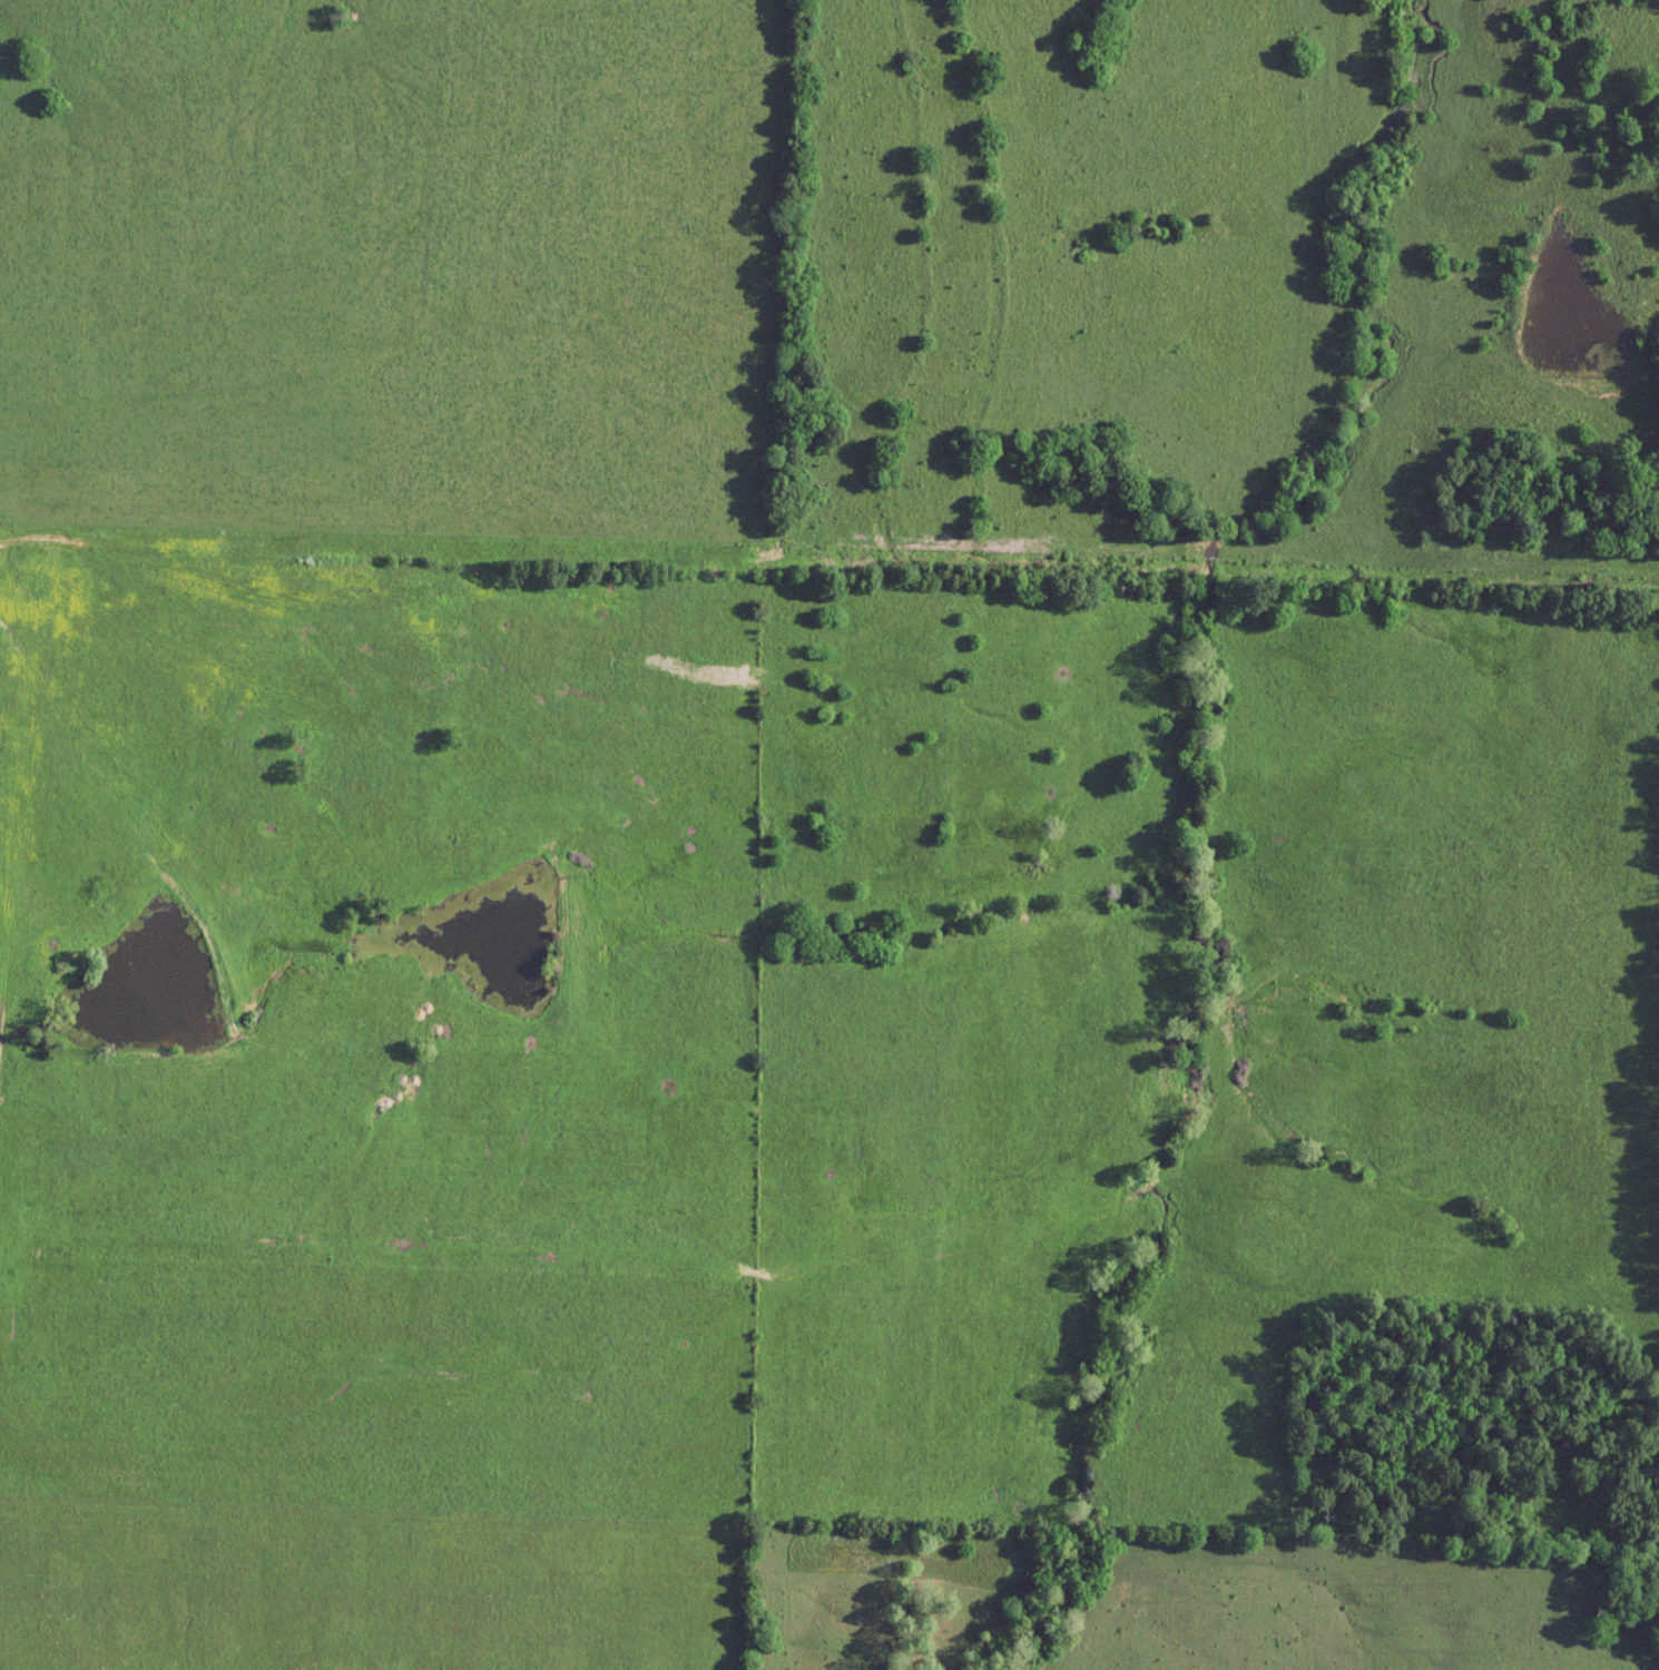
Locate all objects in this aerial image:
road: (35, 540)
building: (38, 591)

